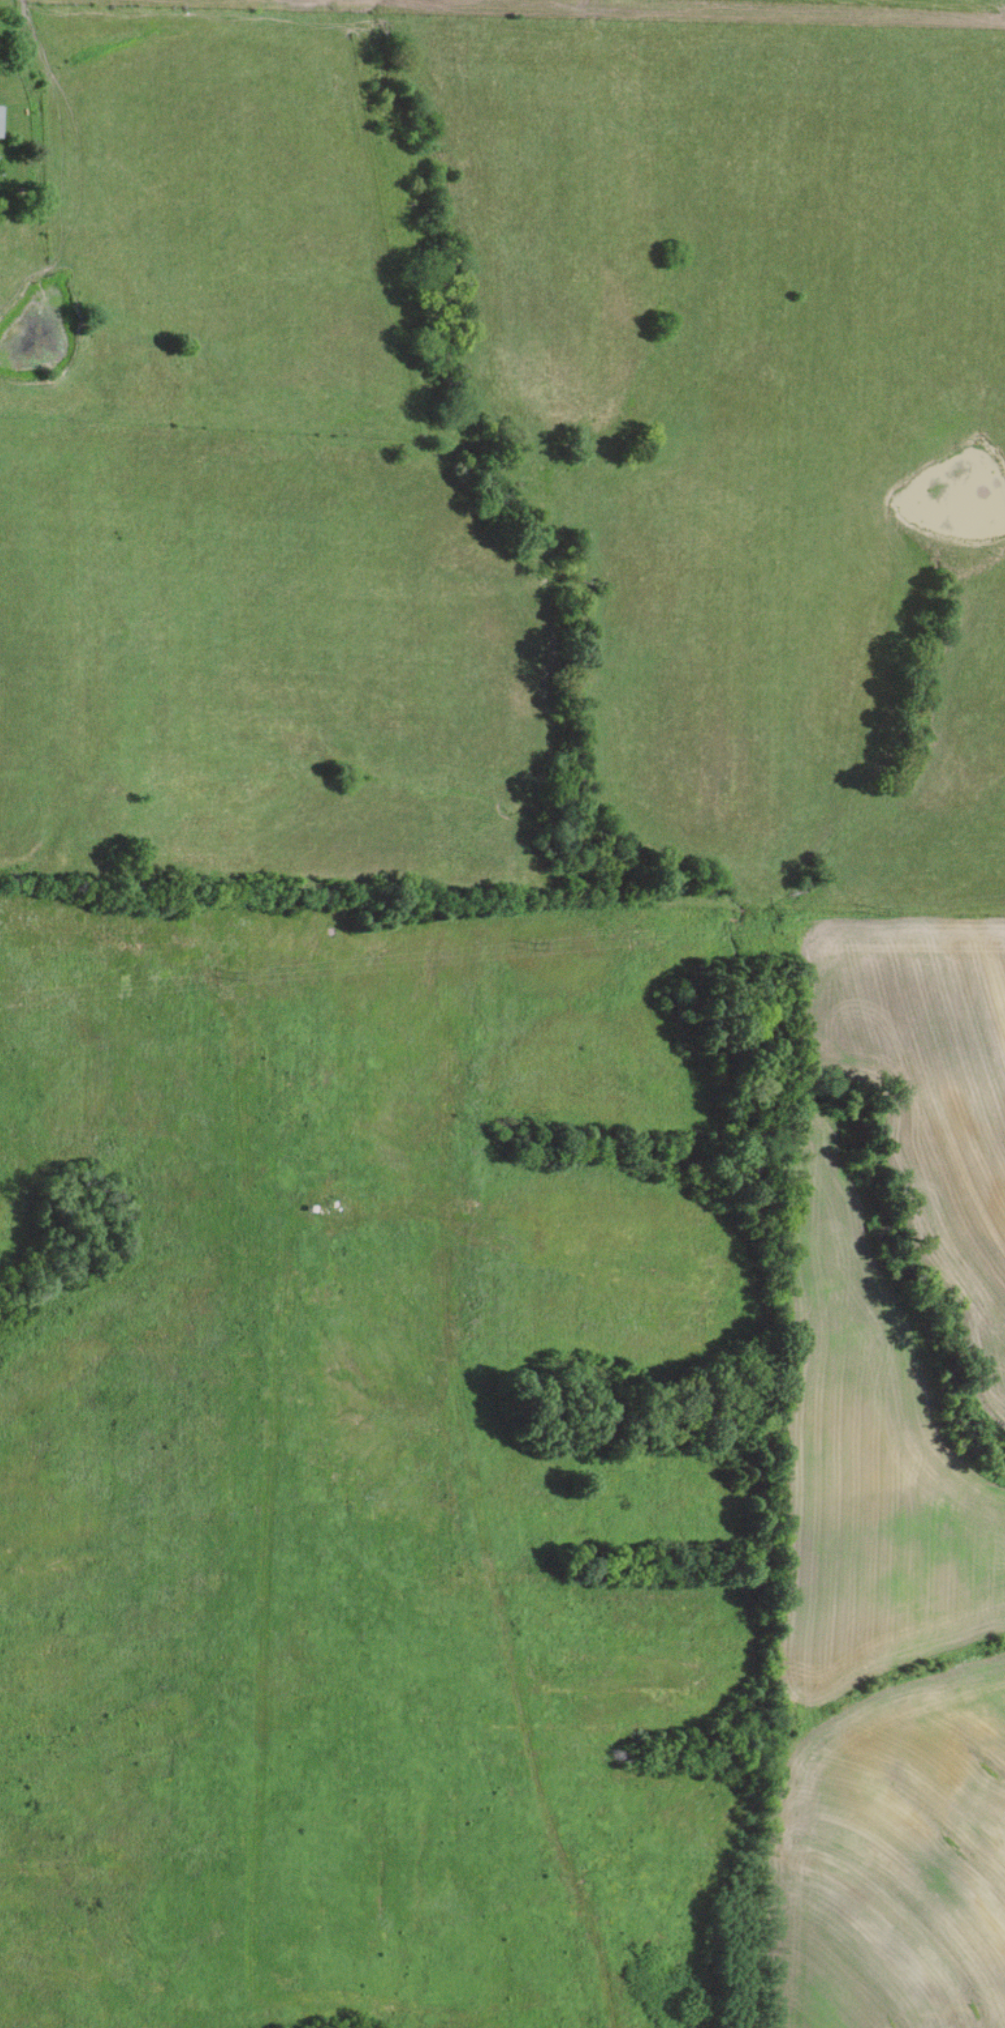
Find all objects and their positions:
building: (0, 122)
power tower: (885, 911)
power tower: (534, 942)
power tower: (234, 973)

